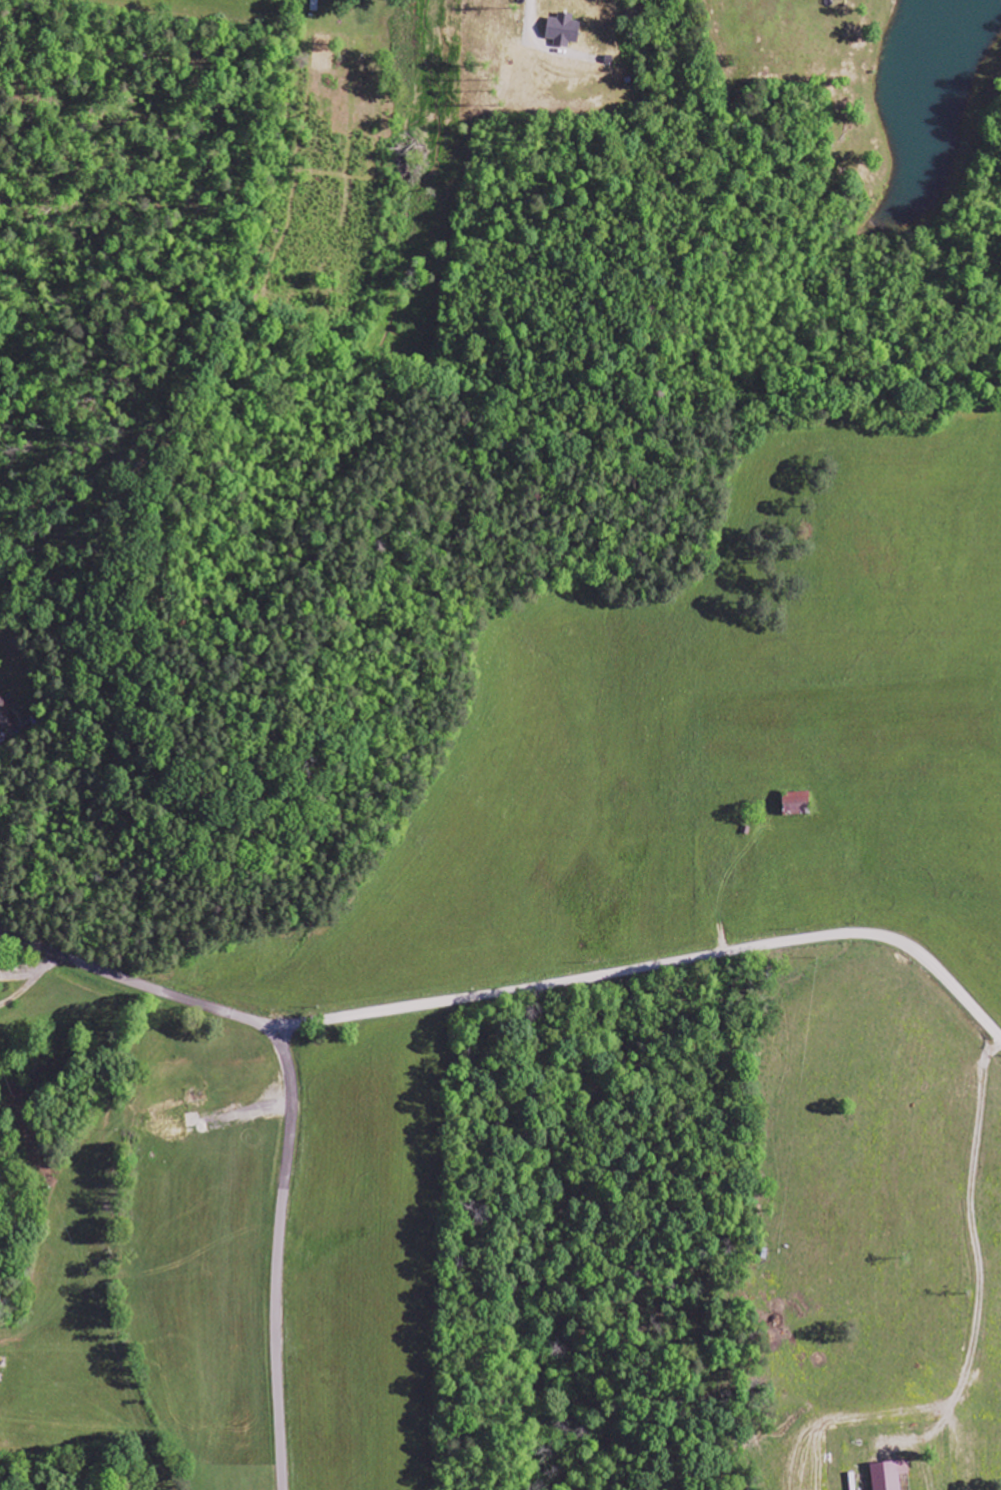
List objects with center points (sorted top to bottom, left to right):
building: (564, 29)
building: (6, 714)
road: (786, 746)
building: (798, 802)
road: (510, 991)
road: (278, 1253)
building: (889, 1475)

